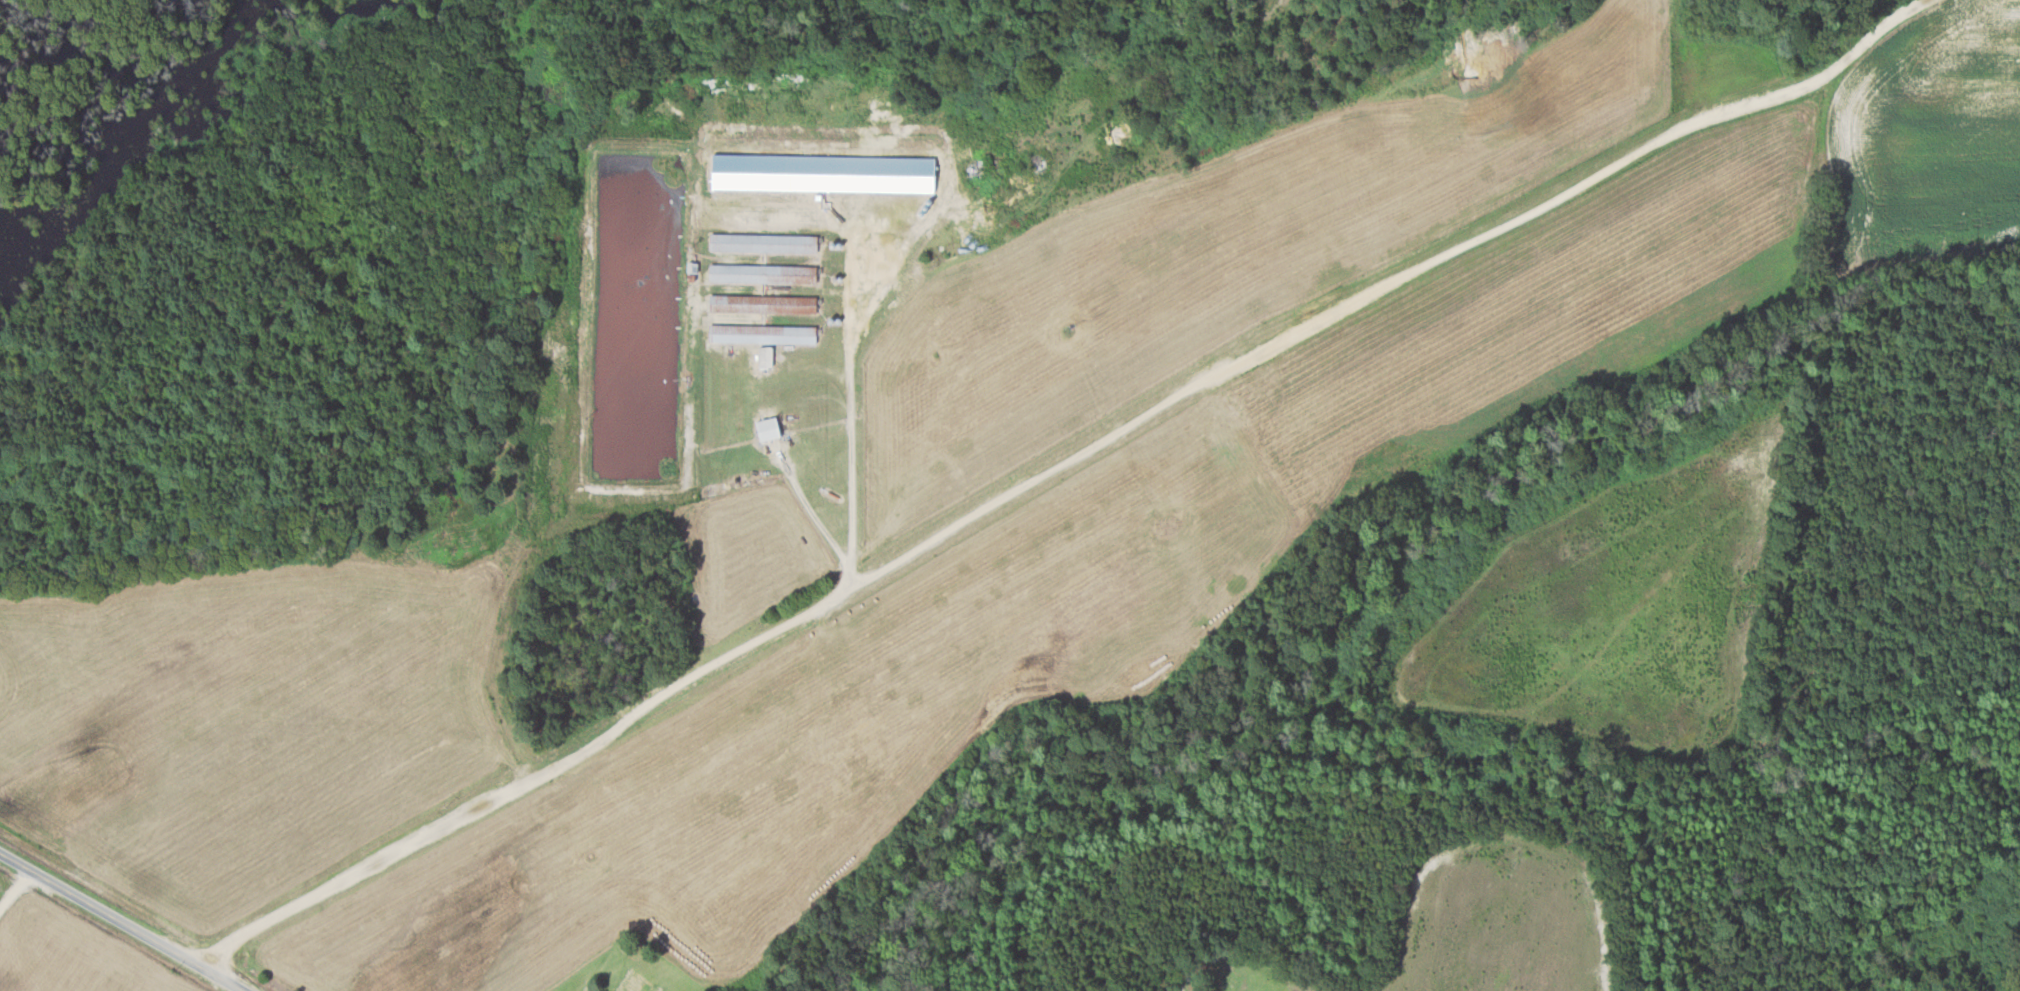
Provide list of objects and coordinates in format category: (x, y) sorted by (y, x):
river: (49, 78)
building: (780, 147)
building: (778, 197)
building: (763, 243)
building: (763, 273)
building: (762, 304)
building: (762, 334)
building: (765, 356)
building: (768, 429)
road: (1055, 468)
road: (13, 890)
road: (120, 923)

